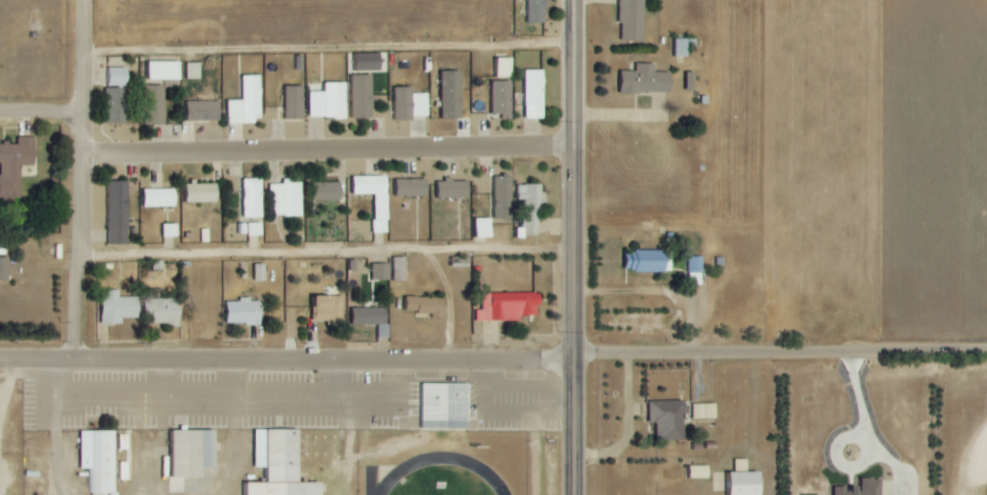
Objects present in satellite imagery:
building: (531, 10)
building: (626, 20)
building: (680, 48)
road: (329, 49)
building: (370, 62)
building: (503, 68)
building: (163, 70)
building: (192, 71)
road: (84, 75)
building: (116, 77)
building: (639, 79)
building: (692, 82)
building: (452, 94)
building: (533, 94)
building: (362, 97)
building: (502, 97)
building: (329, 101)
building: (247, 102)
building: (295, 103)
building: (410, 104)
building: (116, 105)
building: (153, 105)
road: (42, 109)
building: (203, 111)
power tower: (558, 121)
road: (329, 147)
building: (15, 167)
road: (574, 178)
building: (363, 184)
building: (404, 187)
building: (447, 189)
building: (328, 191)
building: (195, 193)
building: (154, 197)
building: (504, 197)
building: (251, 198)
building: (288, 199)
building: (531, 207)
building: (119, 213)
building: (483, 228)
building: (249, 229)
building: (169, 230)
road: (85, 255)
road: (329, 255)
building: (644, 261)
building: (4, 269)
building: (399, 269)
building: (259, 272)
building: (380, 272)
building: (425, 306)
building: (508, 307)
building: (118, 308)
building: (328, 310)
building: (164, 312)
building: (244, 312)
building: (372, 319)
power tower: (558, 333)
road: (493, 359)
road: (165, 384)
road: (317, 386)
building: (445, 406)
road: (227, 408)
building: (701, 411)
building: (664, 419)
road: (574, 426)
road: (864, 426)
road: (234, 428)
road: (58, 449)
road: (151, 449)
road: (370, 450)
building: (186, 452)
road: (444, 457)
building: (96, 459)
road: (973, 464)
building: (274, 465)
building: (124, 470)
building: (694, 472)
building: (736, 483)
building: (856, 488)

